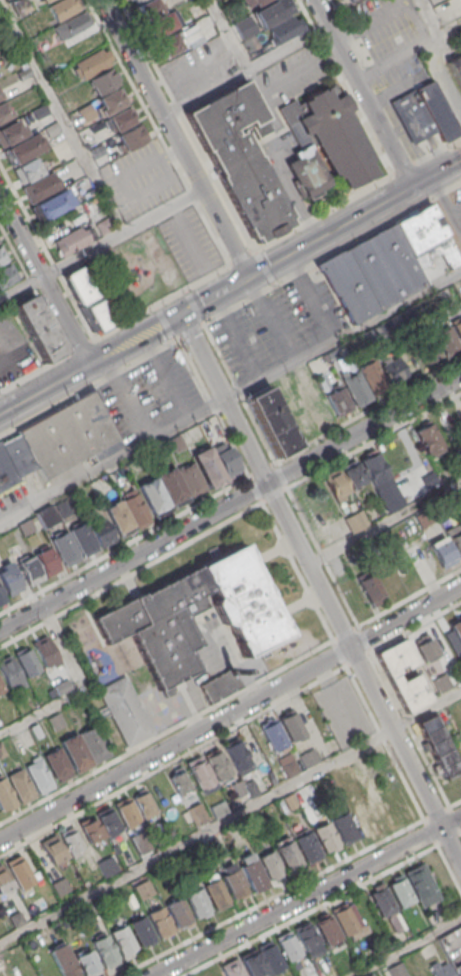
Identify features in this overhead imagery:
building: (44, 0)
building: (350, 0)
building: (134, 1)
building: (251, 3)
building: (20, 6)
building: (229, 6)
building: (63, 8)
building: (148, 10)
building: (273, 12)
building: (71, 25)
building: (162, 26)
building: (243, 27)
building: (285, 29)
road: (437, 32)
building: (192, 35)
building: (5, 39)
building: (251, 44)
building: (167, 45)
building: (91, 63)
road: (250, 67)
building: (456, 67)
building: (104, 81)
road: (345, 87)
road: (204, 92)
road: (362, 93)
building: (1, 94)
building: (0, 97)
building: (112, 99)
building: (39, 111)
building: (4, 112)
building: (86, 112)
building: (424, 113)
building: (122, 118)
road: (187, 125)
building: (51, 128)
building: (331, 132)
building: (11, 133)
building: (131, 136)
road: (176, 137)
building: (26, 148)
building: (97, 150)
building: (240, 156)
road: (83, 158)
building: (27, 170)
building: (307, 172)
parking lot: (139, 179)
road: (357, 193)
parking lot: (459, 197)
road: (446, 203)
building: (53, 204)
road: (456, 209)
road: (356, 217)
building: (75, 238)
building: (427, 241)
parking lot: (188, 242)
road: (332, 253)
building: (2, 256)
road: (243, 257)
road: (61, 266)
road: (265, 268)
building: (372, 273)
building: (6, 275)
road: (44, 281)
building: (80, 285)
road: (33, 290)
road: (194, 307)
building: (98, 312)
traffic signals: (181, 314)
road: (166, 322)
parking lot: (278, 326)
building: (37, 327)
road: (116, 327)
building: (458, 327)
road: (189, 332)
building: (446, 339)
road: (126, 344)
building: (427, 348)
building: (393, 369)
building: (372, 377)
road: (88, 387)
building: (356, 388)
road: (239, 393)
road: (231, 400)
building: (338, 401)
building: (318, 405)
building: (273, 422)
building: (66, 434)
building: (428, 437)
building: (177, 442)
building: (226, 459)
building: (12, 461)
building: (209, 467)
building: (375, 470)
building: (353, 473)
road: (280, 474)
building: (191, 479)
building: (337, 485)
building: (171, 487)
road: (256, 488)
road: (274, 494)
building: (153, 496)
building: (457, 499)
building: (396, 500)
road: (229, 502)
road: (192, 506)
building: (62, 507)
building: (136, 509)
building: (45, 515)
building: (424, 517)
building: (119, 518)
road: (383, 519)
building: (354, 521)
building: (26, 526)
building: (101, 532)
building: (331, 533)
building: (455, 537)
building: (82, 538)
building: (64, 548)
building: (443, 551)
building: (46, 561)
building: (29, 570)
road: (297, 570)
road: (131, 573)
building: (387, 577)
building: (10, 580)
building: (369, 585)
road: (320, 590)
building: (1, 597)
building: (140, 620)
road: (415, 626)
building: (456, 627)
building: (425, 646)
road: (339, 651)
building: (45, 652)
road: (374, 659)
building: (26, 661)
building: (9, 671)
building: (392, 677)
building: (441, 682)
building: (1, 685)
building: (220, 685)
building: (63, 686)
road: (81, 688)
building: (124, 710)
parking lot: (343, 710)
road: (230, 712)
building: (55, 720)
building: (291, 725)
building: (35, 730)
road: (166, 730)
building: (273, 734)
building: (93, 743)
building: (254, 744)
building: (437, 745)
building: (2, 751)
building: (75, 752)
building: (237, 756)
building: (308, 757)
road: (172, 760)
building: (56, 763)
building: (217, 764)
building: (288, 765)
building: (200, 774)
building: (38, 775)
building: (269, 776)
road: (403, 779)
building: (179, 781)
building: (20, 784)
building: (237, 788)
building: (250, 789)
building: (5, 794)
road: (454, 802)
building: (144, 803)
building: (379, 806)
building: (218, 809)
building: (126, 810)
building: (197, 812)
road: (230, 815)
building: (361, 817)
building: (107, 820)
building: (90, 828)
building: (344, 828)
building: (325, 836)
building: (70, 839)
building: (210, 842)
building: (306, 846)
building: (51, 848)
building: (116, 849)
building: (288, 856)
building: (106, 865)
building: (270, 865)
building: (19, 871)
building: (252, 875)
building: (3, 880)
building: (233, 884)
building: (421, 884)
building: (59, 885)
building: (144, 888)
building: (400, 892)
building: (215, 893)
road: (305, 896)
road: (269, 897)
building: (381, 901)
building: (196, 903)
road: (308, 910)
building: (177, 913)
building: (17, 917)
building: (343, 918)
building: (159, 921)
building: (326, 930)
building: (142, 931)
building: (307, 938)
building: (123, 941)
building: (287, 945)
road: (403, 946)
building: (104, 951)
building: (270, 956)
building: (63, 961)
building: (86, 963)
building: (252, 964)
building: (231, 968)
building: (457, 969)
building: (395, 970)
building: (440, 970)
building: (299, 972)
building: (211, 973)

